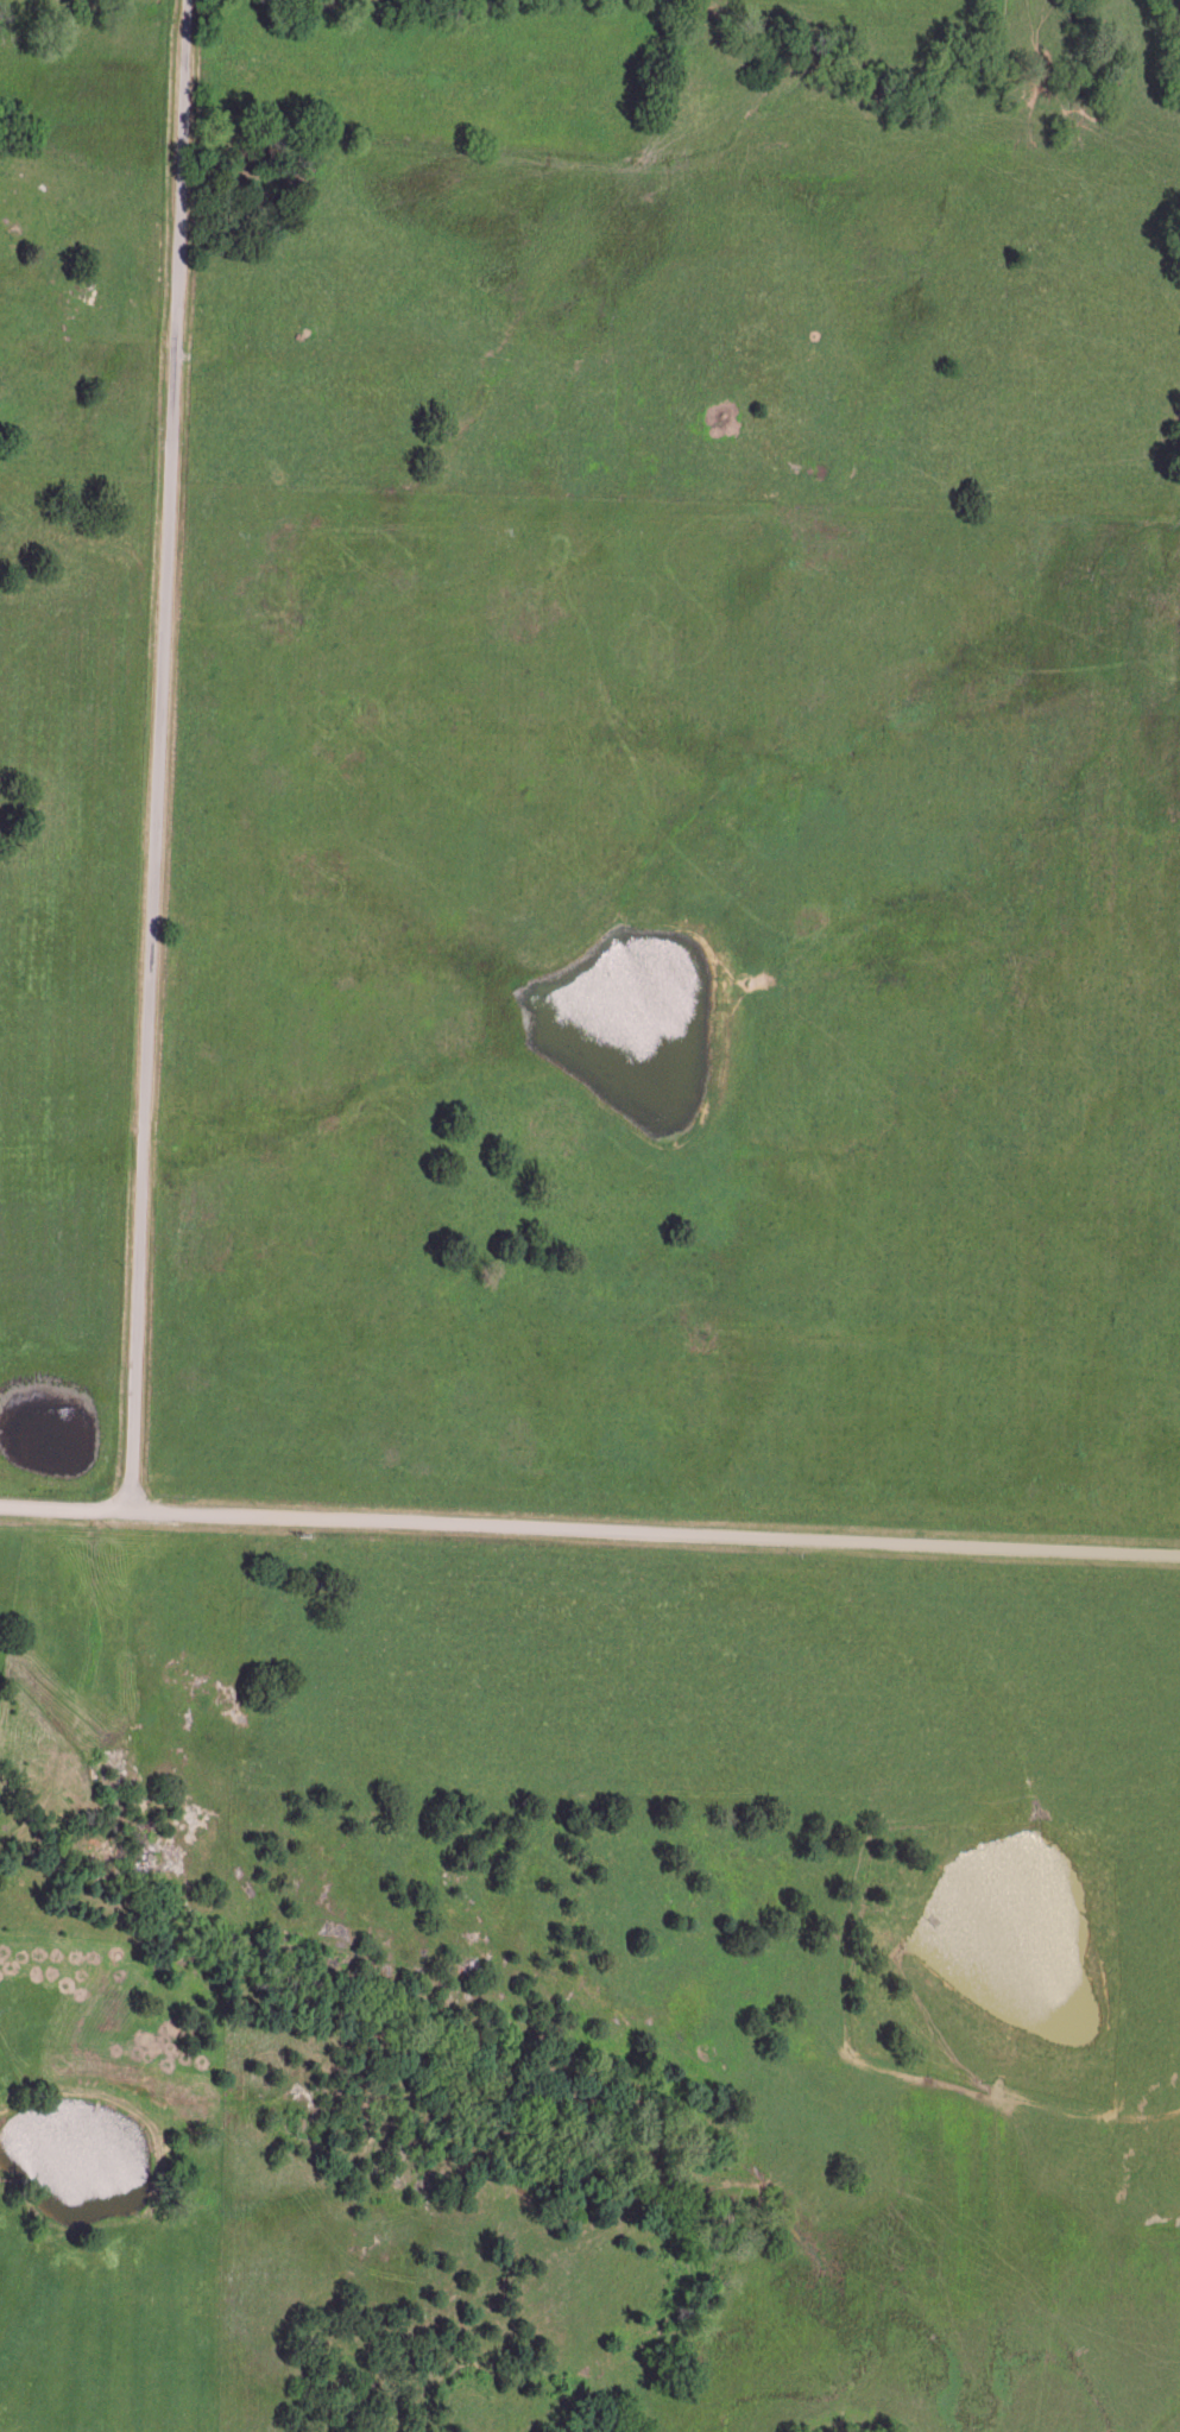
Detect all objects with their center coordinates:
road: (159, 756)
road: (589, 1529)

